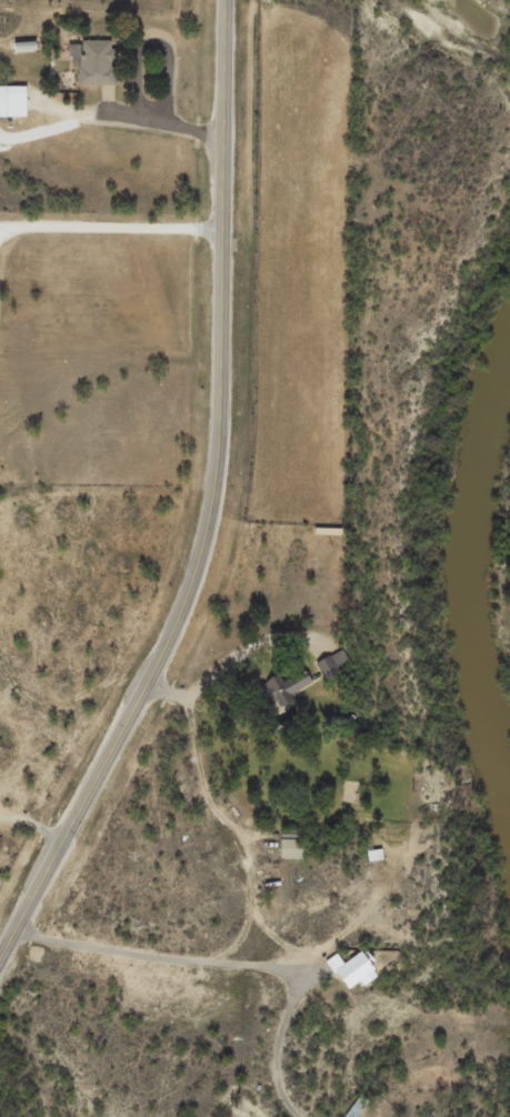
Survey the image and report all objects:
building: (100, 61)
building: (14, 101)
road: (111, 227)
road: (211, 505)
building: (336, 664)
building: (290, 686)
building: (296, 846)
building: (357, 968)

